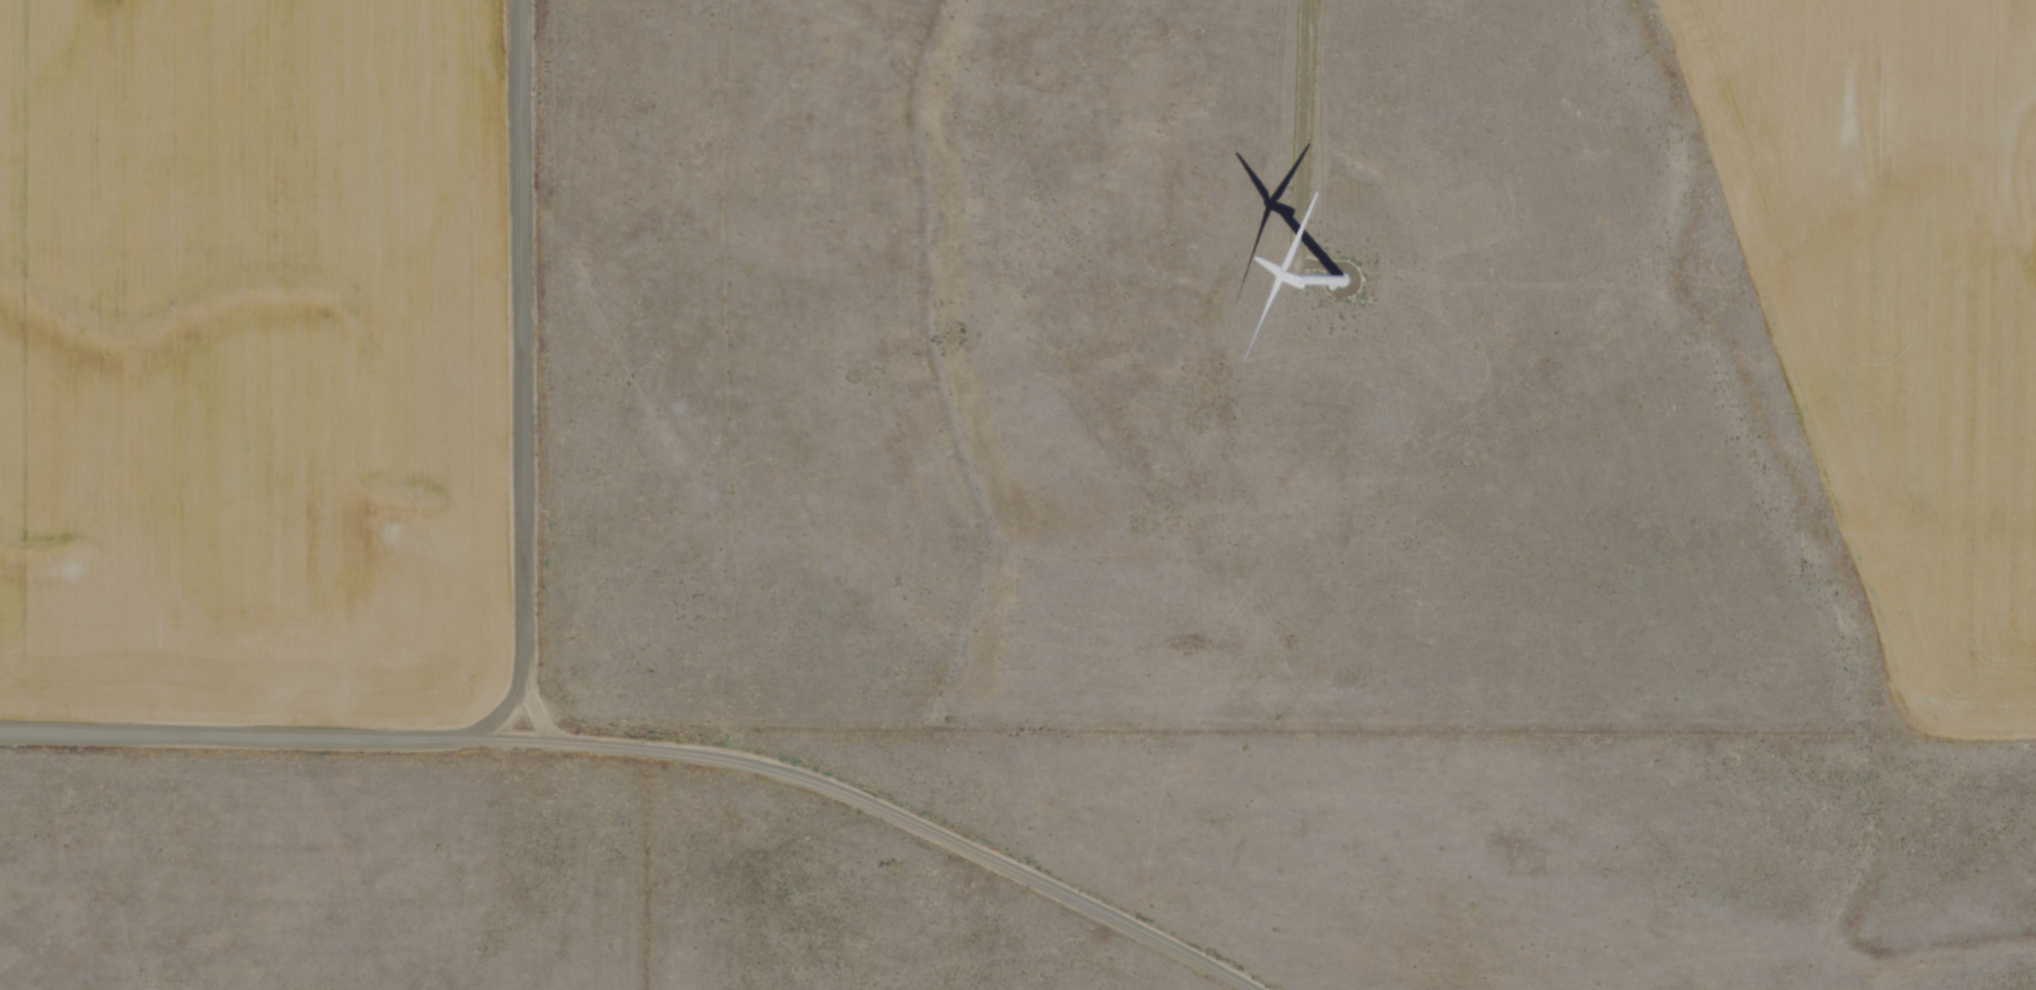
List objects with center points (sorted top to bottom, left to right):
road: (1297, 134)
wind turbine: (1338, 282)
road: (518, 366)
road: (657, 744)

